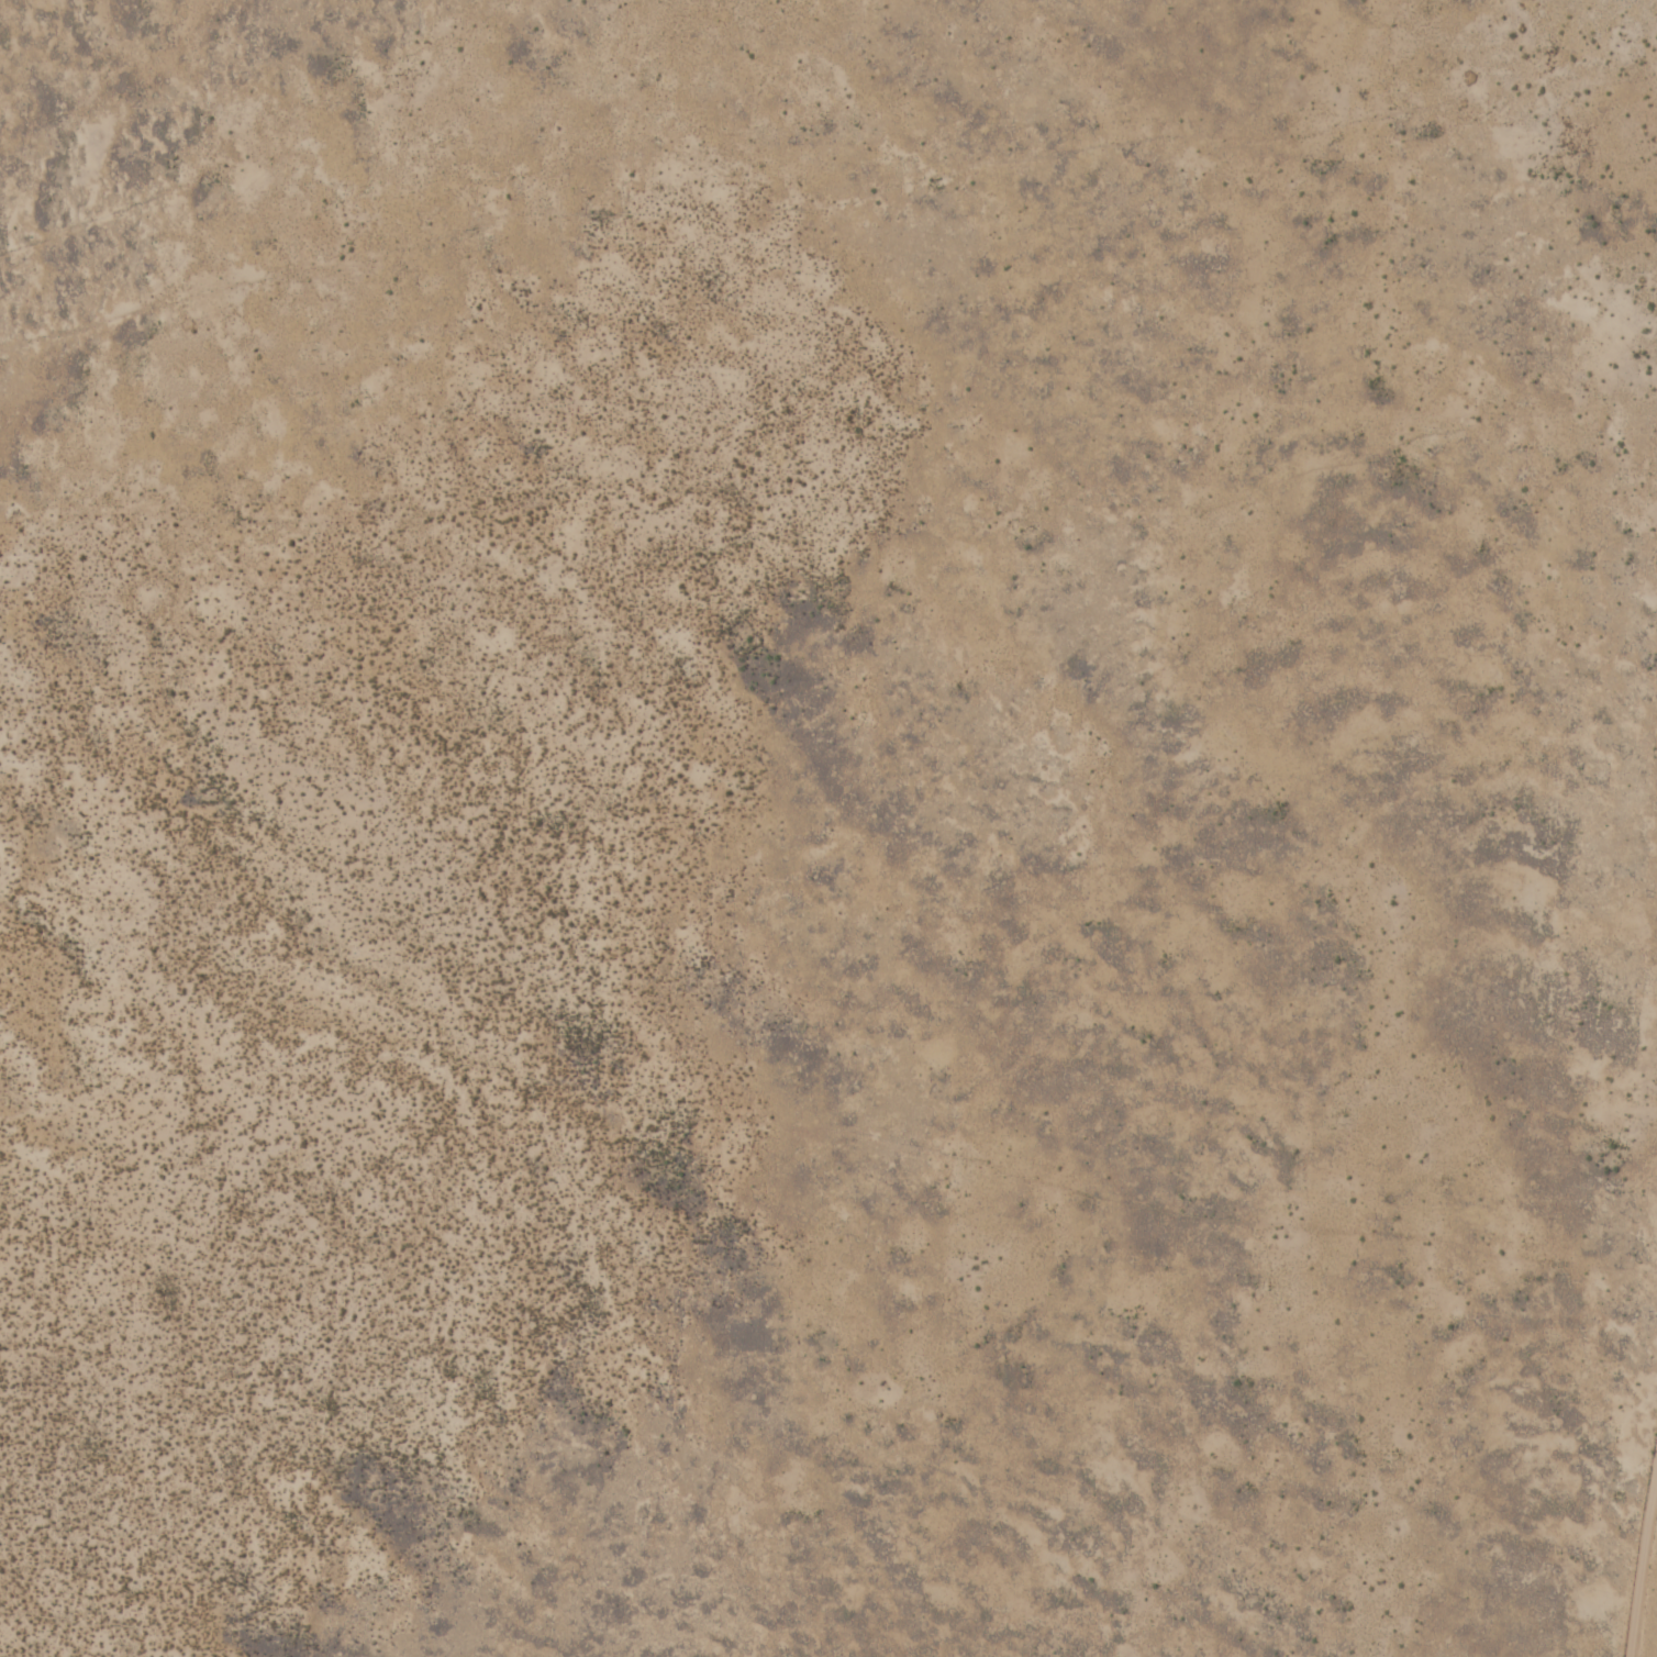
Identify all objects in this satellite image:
road: (1620, 1398)

